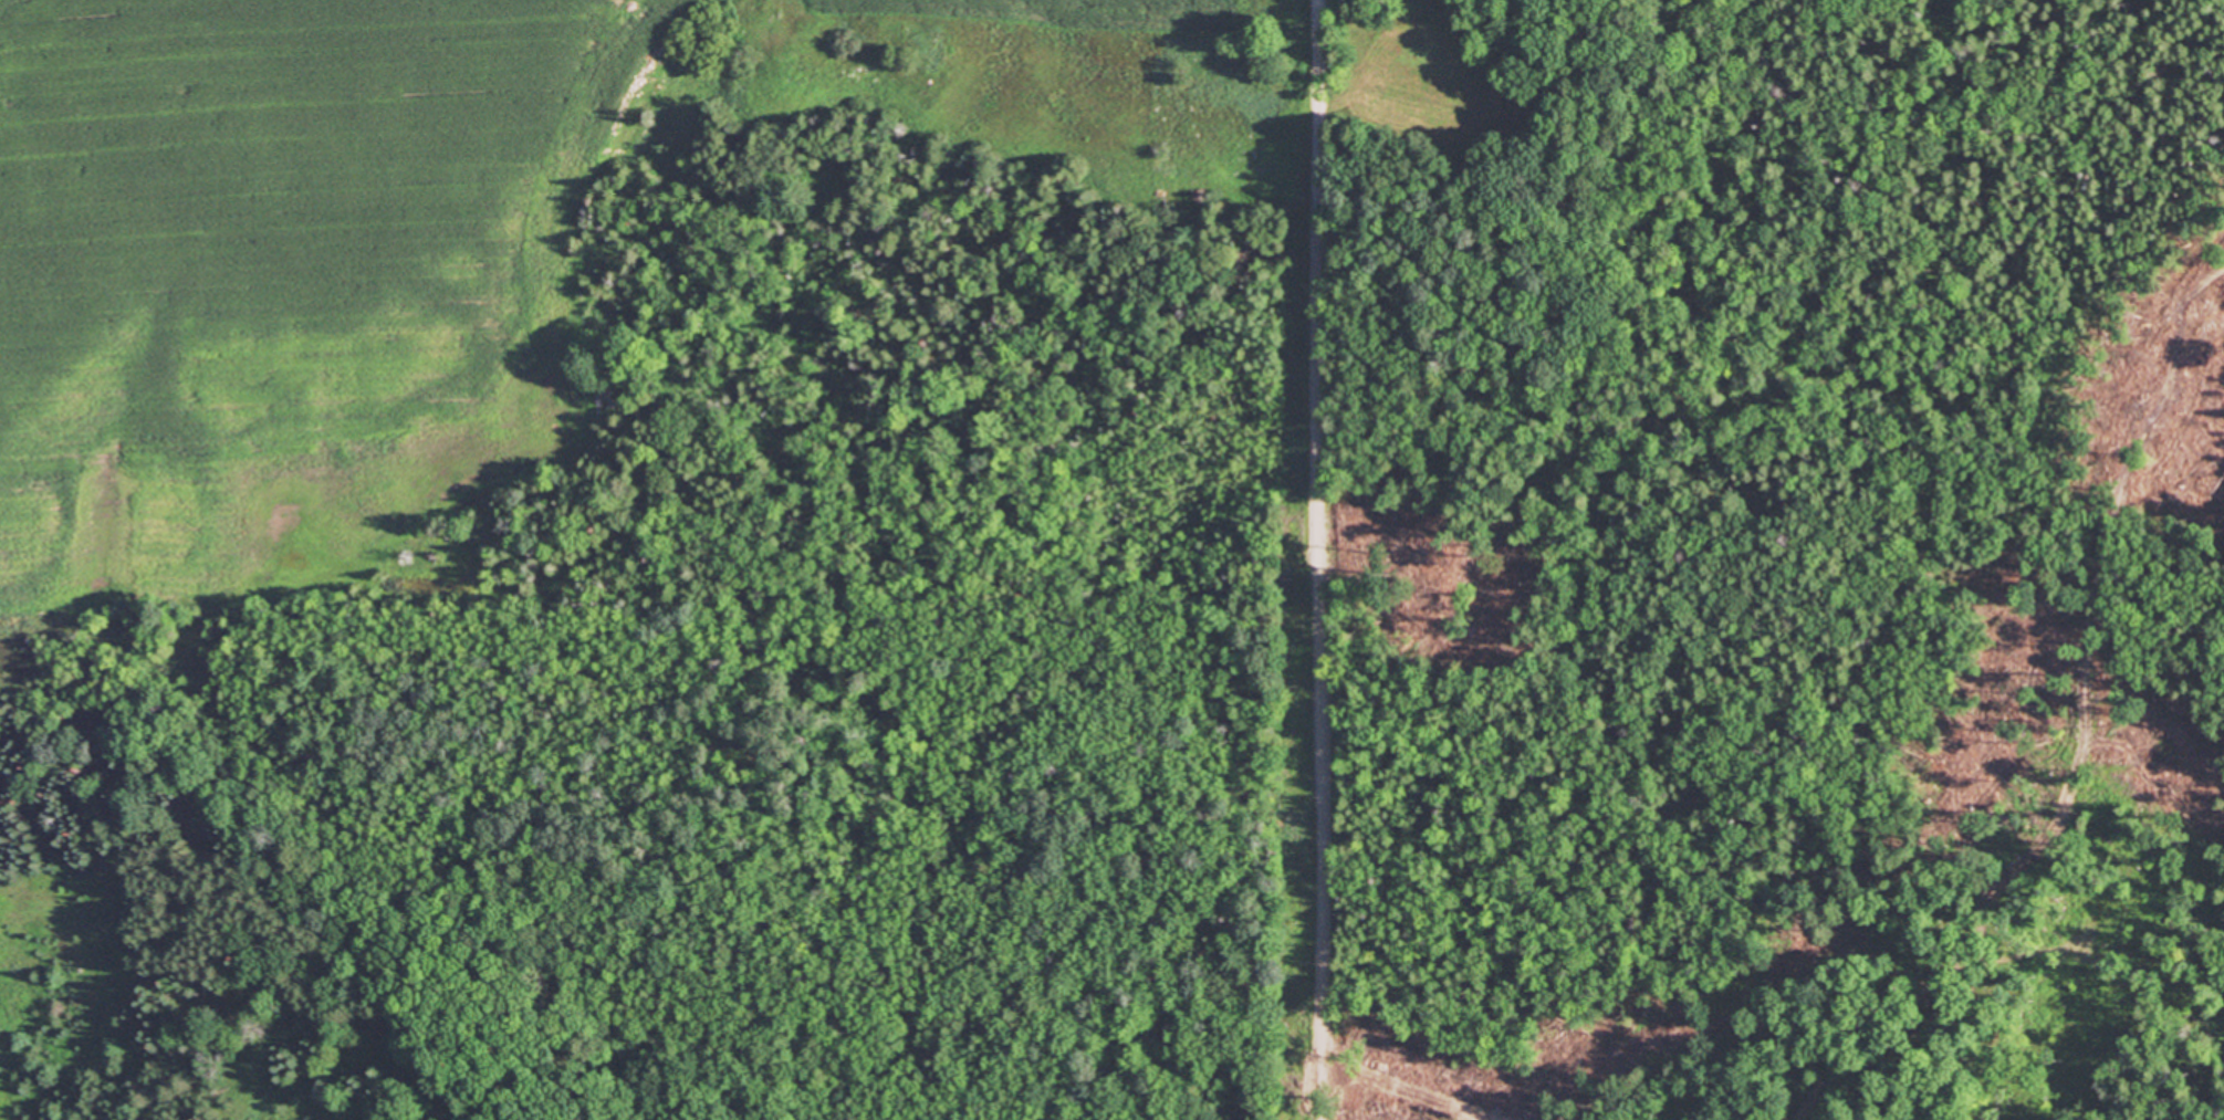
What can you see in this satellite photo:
road: (1315, 559)

